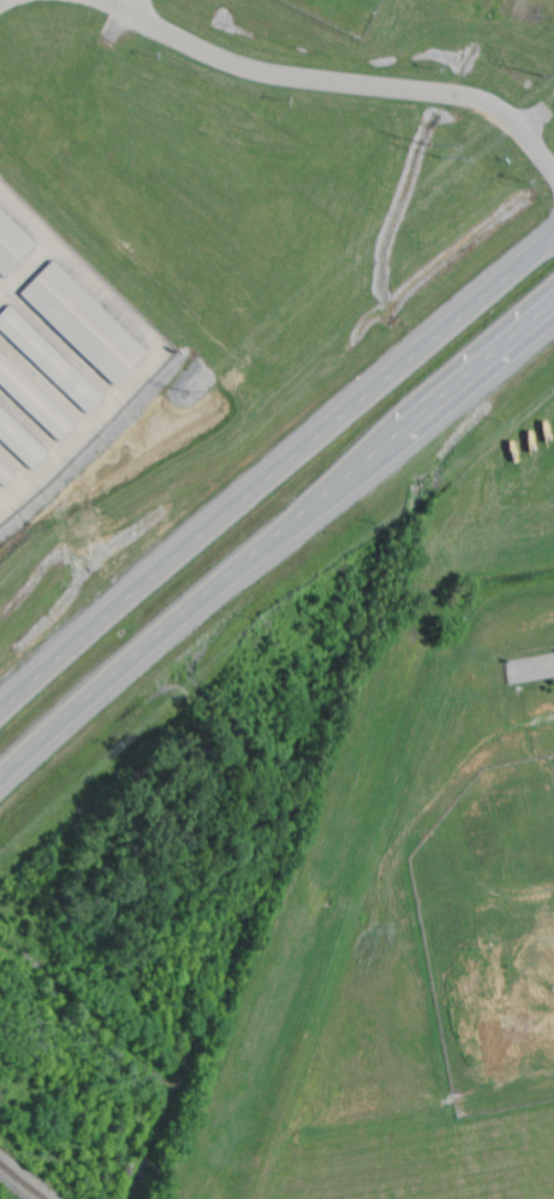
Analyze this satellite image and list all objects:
road: (0, 0)
road: (333, 83)
building: (12, 245)
building: (84, 326)
building: (49, 361)
building: (34, 399)
building: (19, 441)
road: (274, 471)
building: (5, 475)
road: (273, 546)
railway: (17, 1185)

